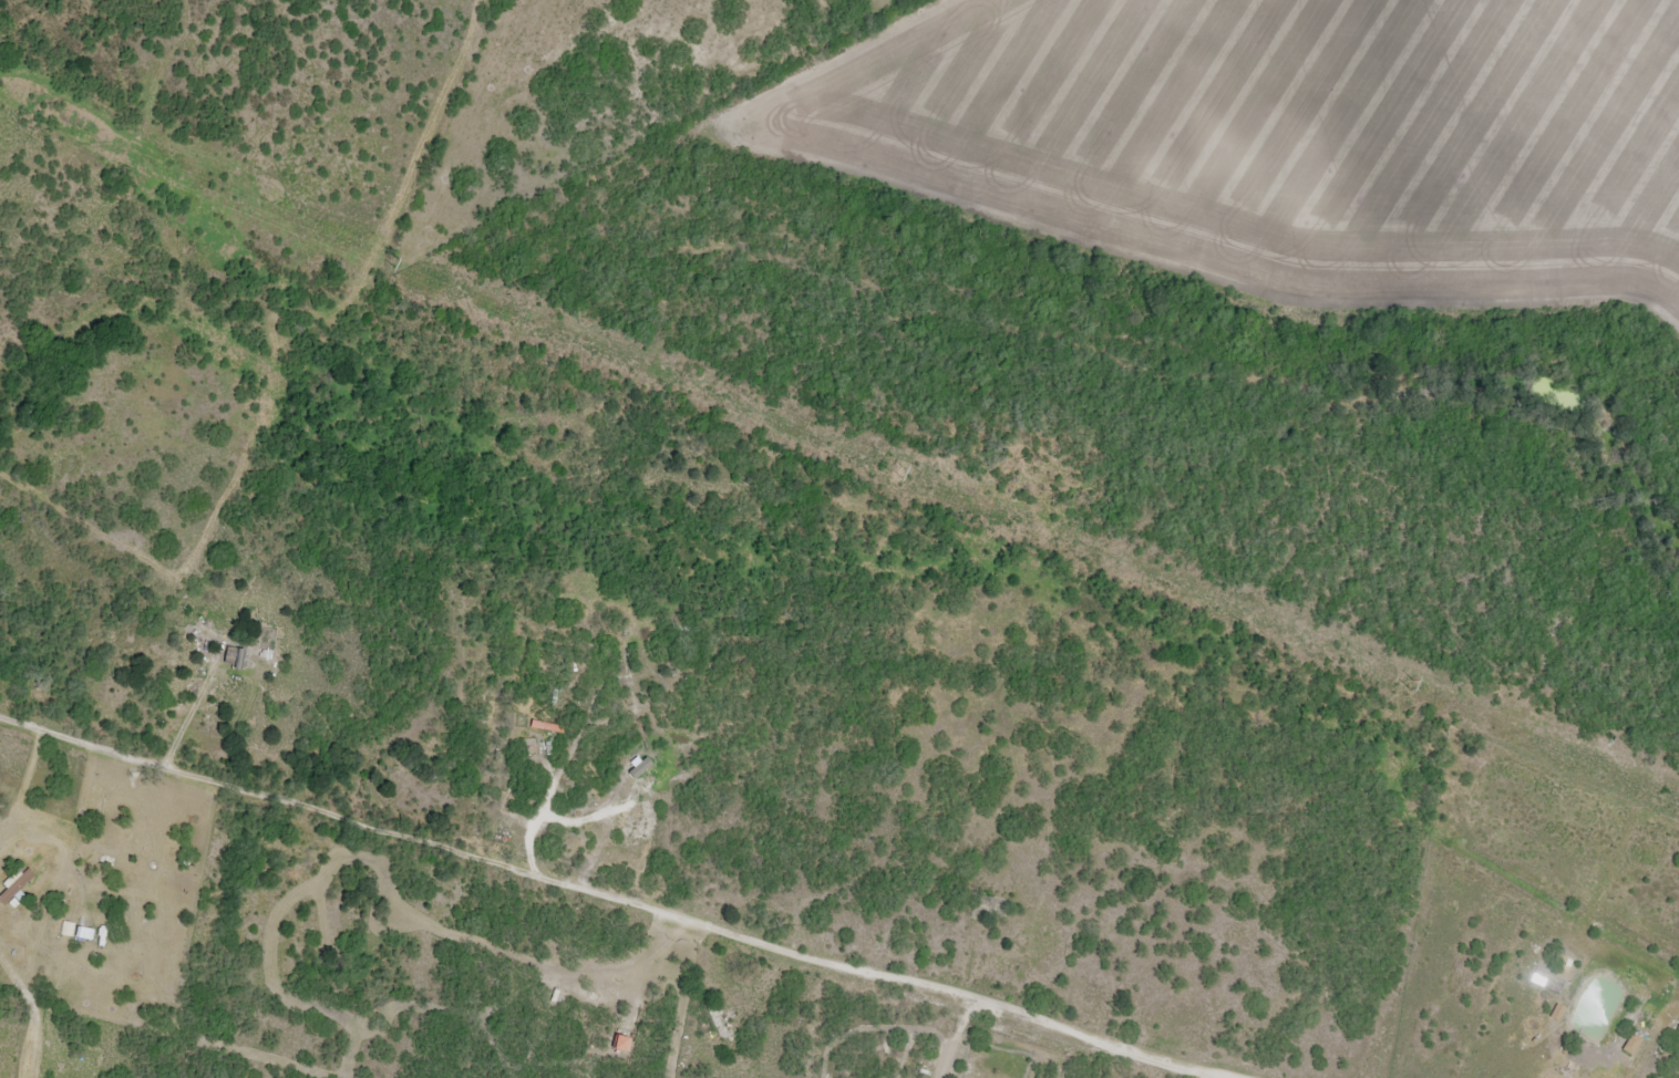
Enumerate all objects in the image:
power tower: (396, 270)
power tower: (904, 473)
power tower: (1410, 684)
building: (99, 853)
road: (610, 893)
building: (720, 1022)

